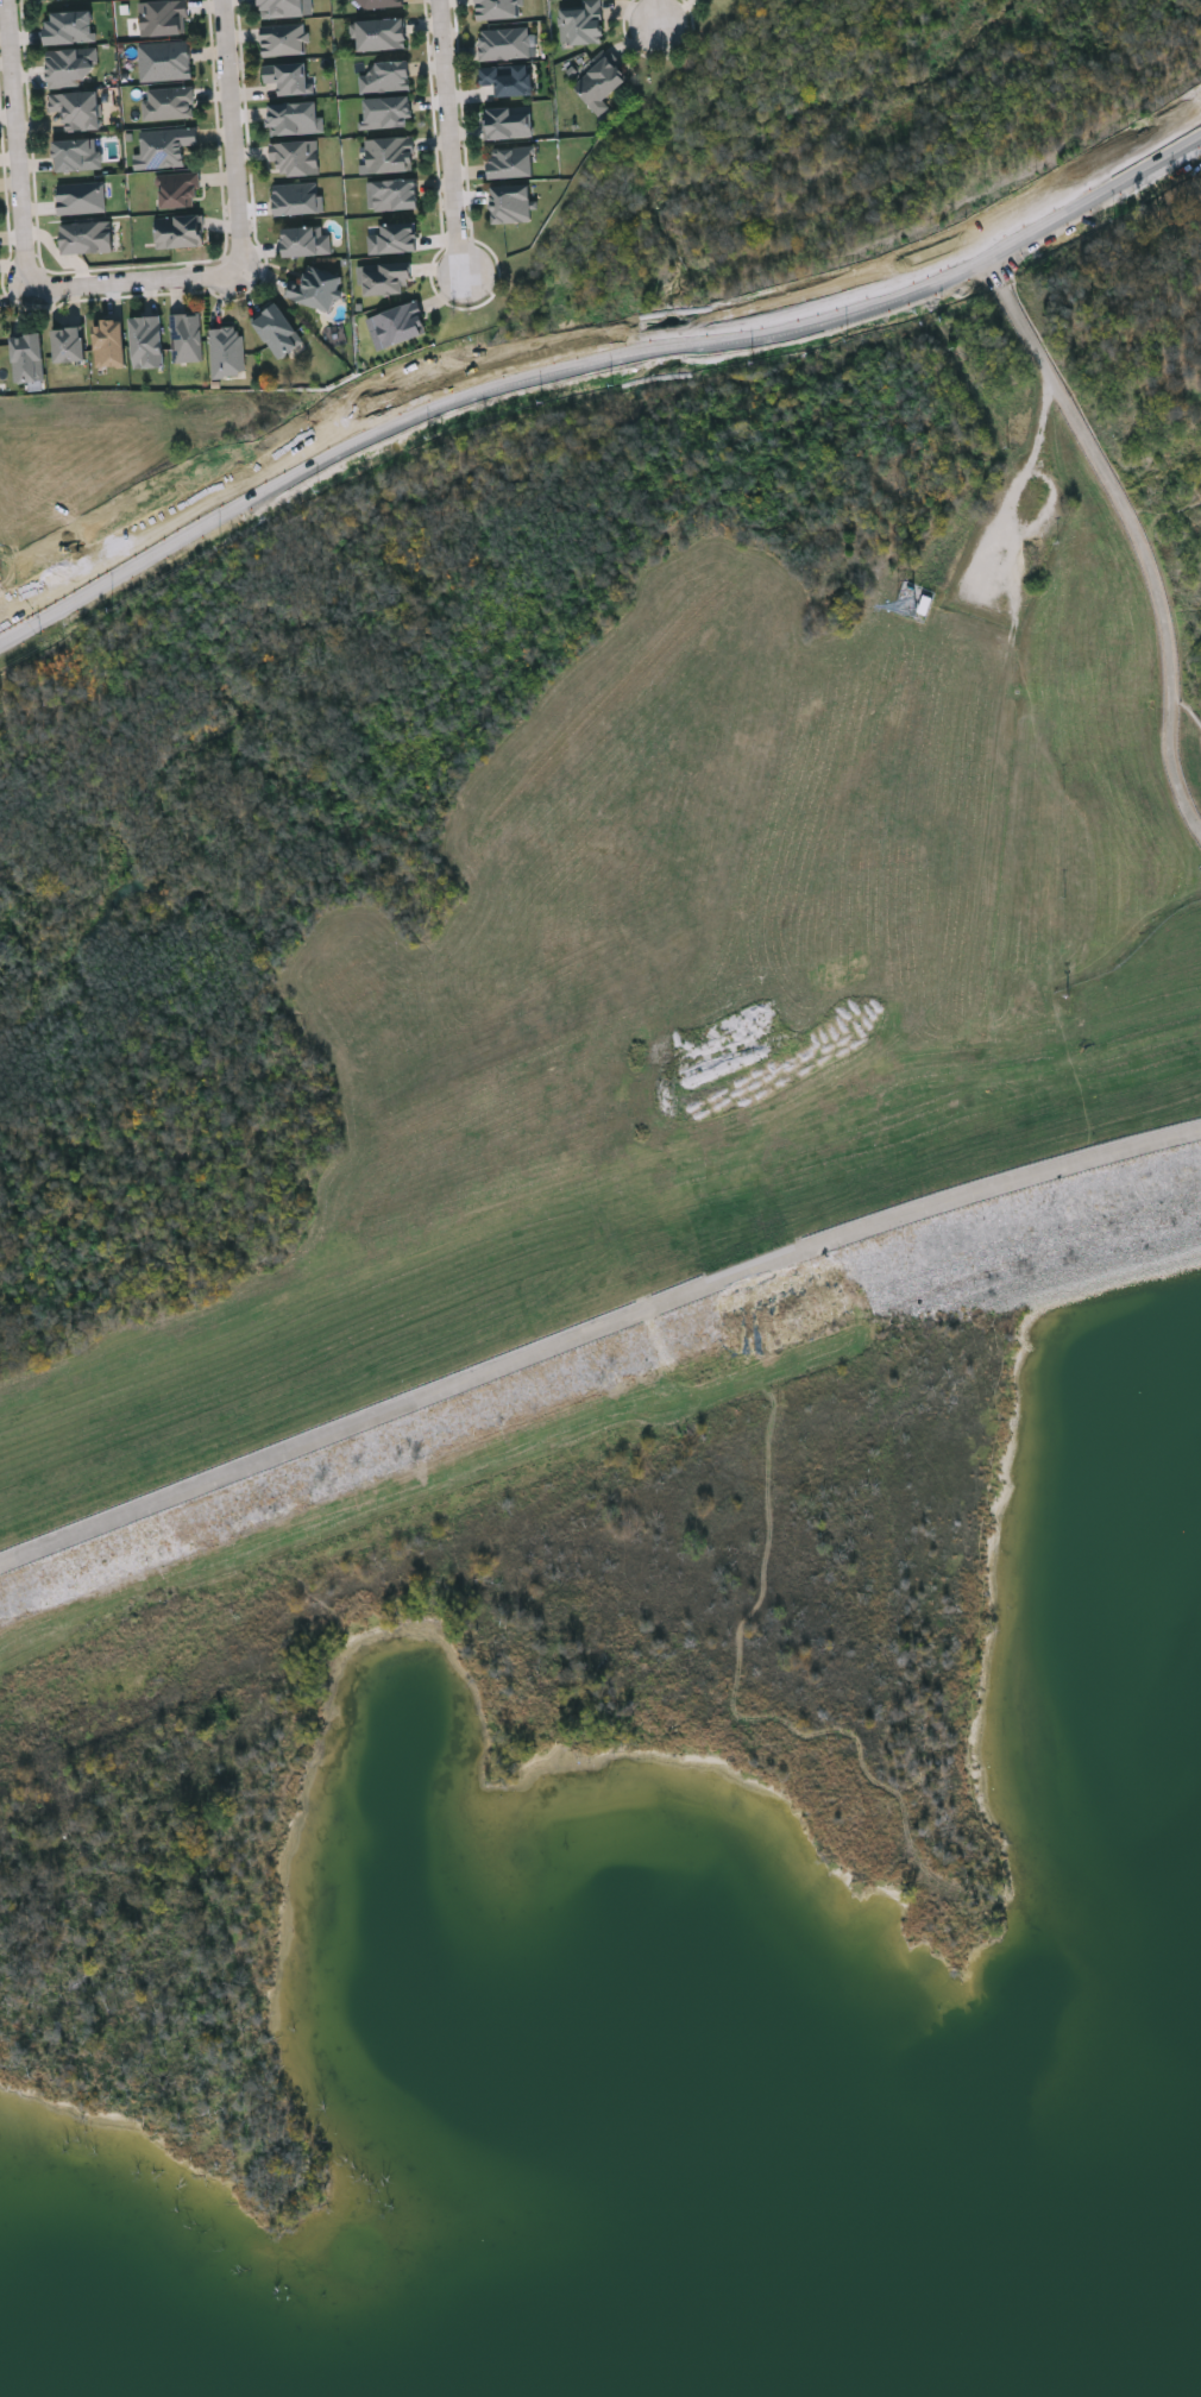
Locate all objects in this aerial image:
building: (378, 2)
building: (281, 7)
building: (497, 8)
road: (659, 13)
building: (162, 17)
building: (581, 24)
building: (69, 26)
building: (379, 32)
building: (283, 37)
building: (504, 42)
building: (164, 59)
building: (71, 65)
building: (285, 76)
building: (386, 76)
building: (508, 78)
building: (599, 83)
building: (168, 101)
building: (76, 107)
building: (386, 113)
building: (295, 119)
building: (509, 122)
road: (20, 138)
road: (454, 139)
road: (235, 140)
building: (164, 147)
building: (76, 152)
building: (388, 152)
building: (295, 155)
building: (511, 162)
building: (177, 188)
building: (395, 194)
building: (80, 195)
building: (298, 199)
building: (510, 201)
building: (180, 228)
building: (86, 234)
building: (392, 235)
building: (306, 238)
road: (992, 268)
building: (386, 276)
road: (132, 283)
building: (315, 285)
building: (400, 321)
building: (277, 328)
building: (108, 335)
building: (186, 335)
building: (146, 339)
building: (68, 341)
building: (227, 348)
building: (27, 356)
road: (592, 359)
road: (1045, 421)
road: (1140, 543)
road: (995, 596)
road: (7, 617)
traffic signals: (15, 628)
road: (595, 1330)
park: (522, 1731)

